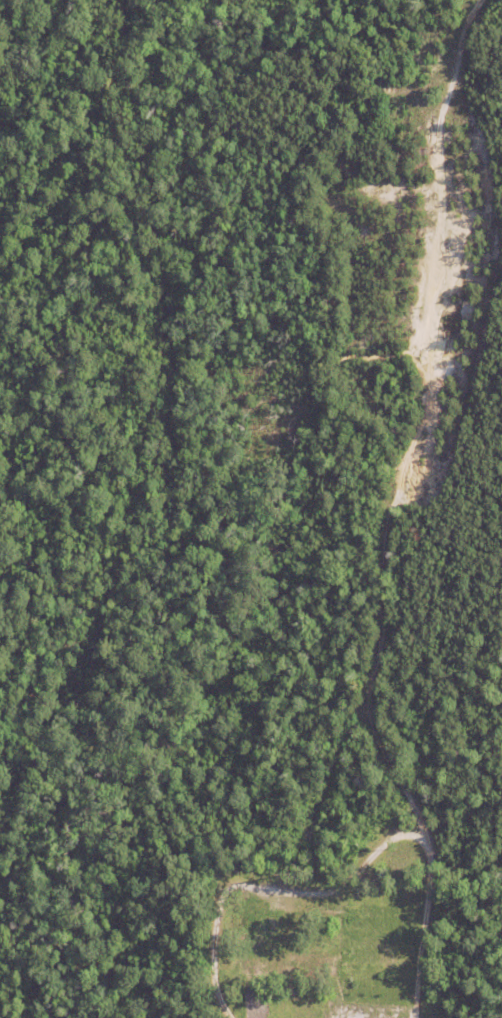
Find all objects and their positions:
building: (278, 949)
road: (414, 1013)

